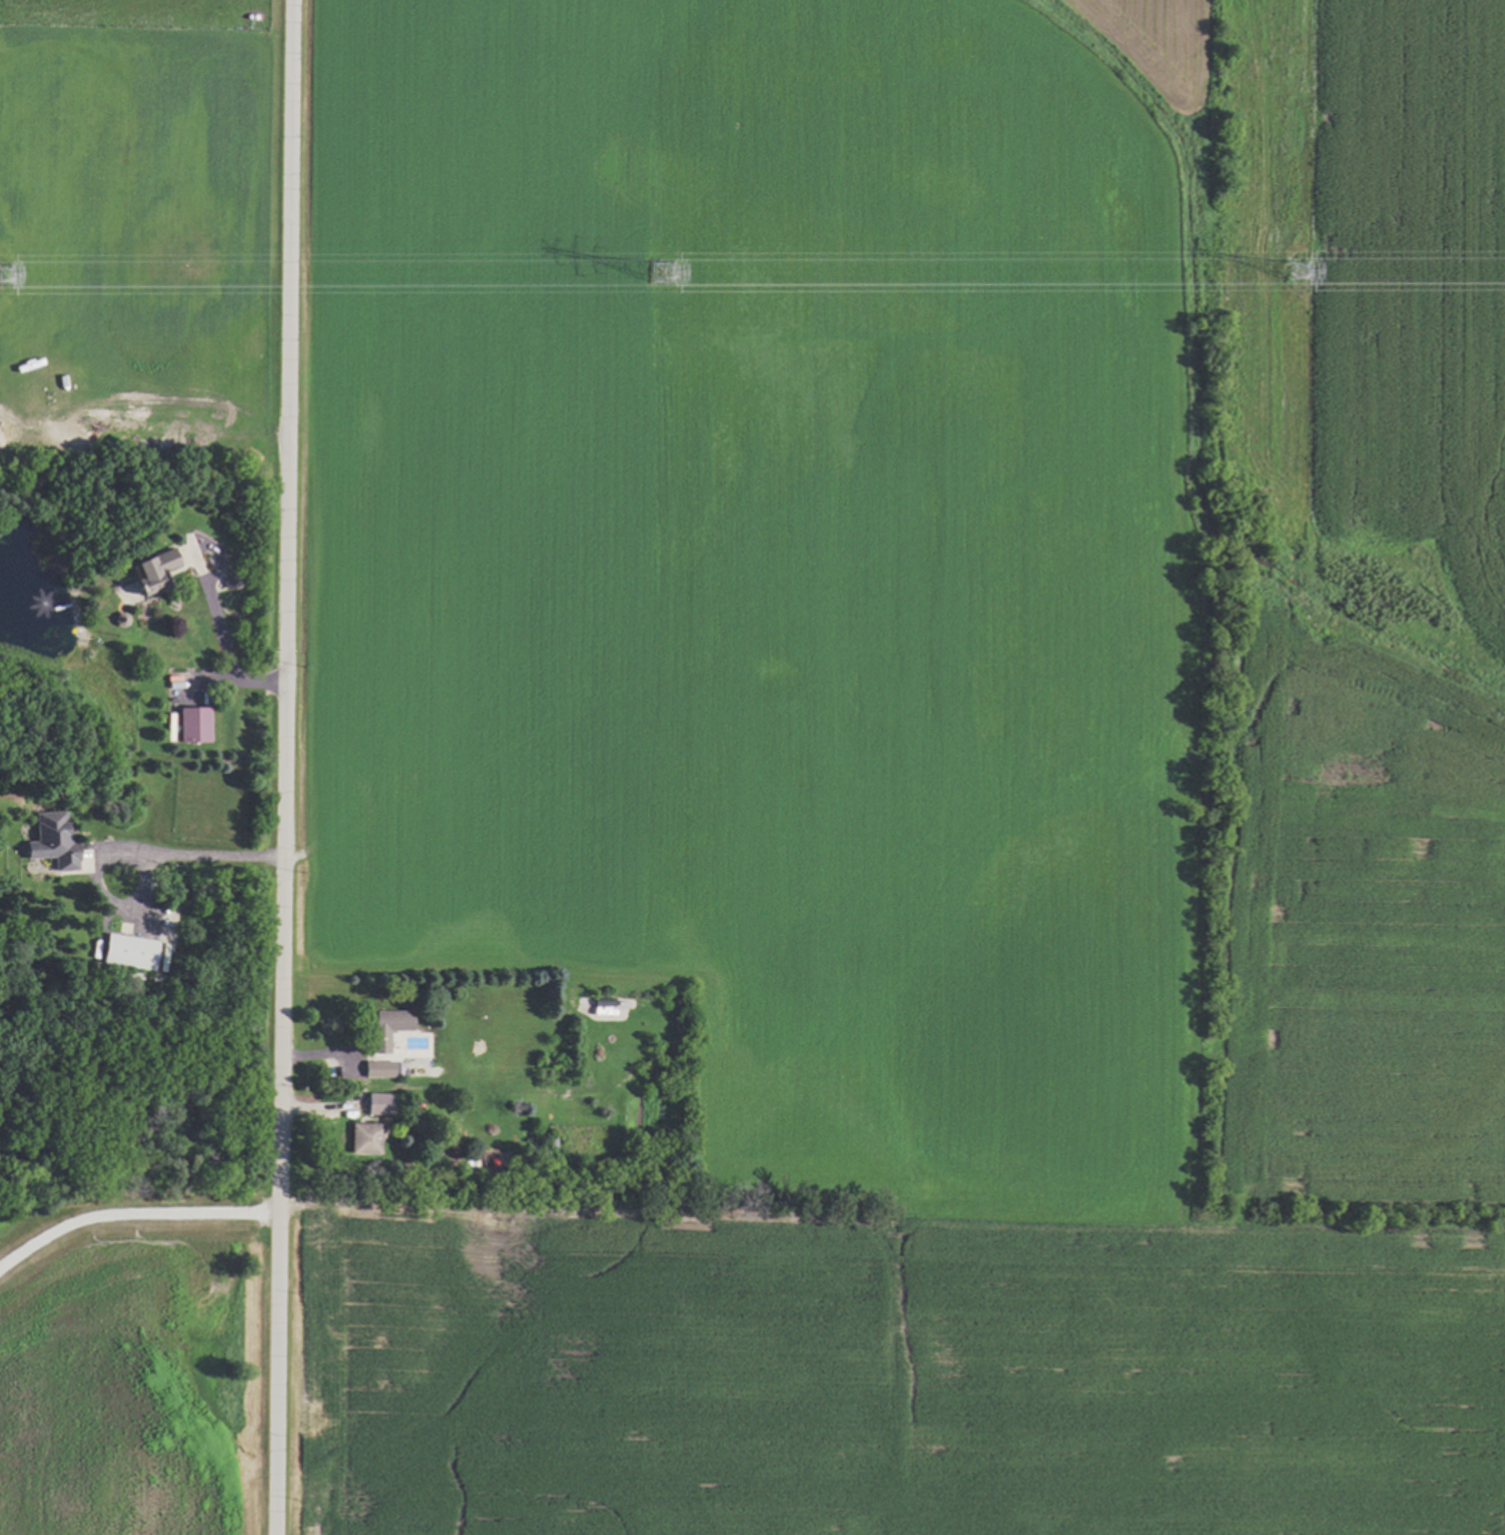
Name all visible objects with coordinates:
crop: (135, 229)
power tower: (3, 284)
power tower: (661, 286)
power tower: (1296, 287)
road: (225, 653)
building: (191, 723)
road: (287, 767)
crop: (909, 770)
building: (48, 839)
road: (125, 854)
building: (127, 951)
building: (387, 1026)
building: (376, 1068)
building: (377, 1103)
building: (362, 1138)
road: (133, 1207)

